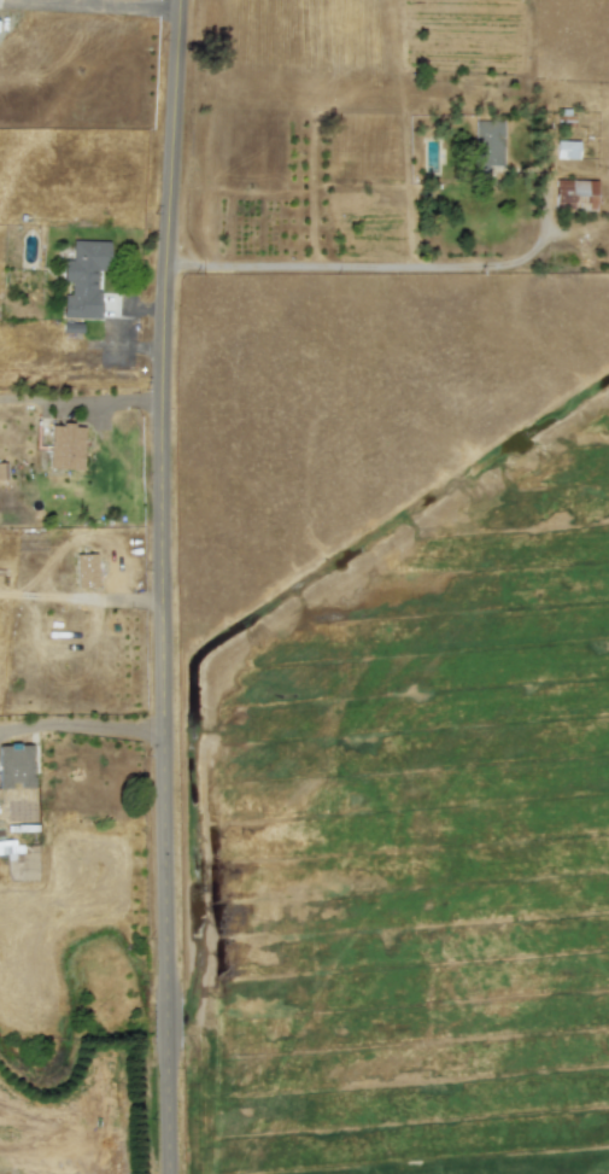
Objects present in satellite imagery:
road: (93, 8)
building: (487, 144)
building: (566, 148)
building: (574, 193)
road: (361, 267)
building: (83, 278)
road: (81, 399)
building: (65, 446)
building: (84, 568)
road: (163, 586)
road: (82, 724)
building: (14, 765)
building: (10, 846)
crop: (353, 887)

